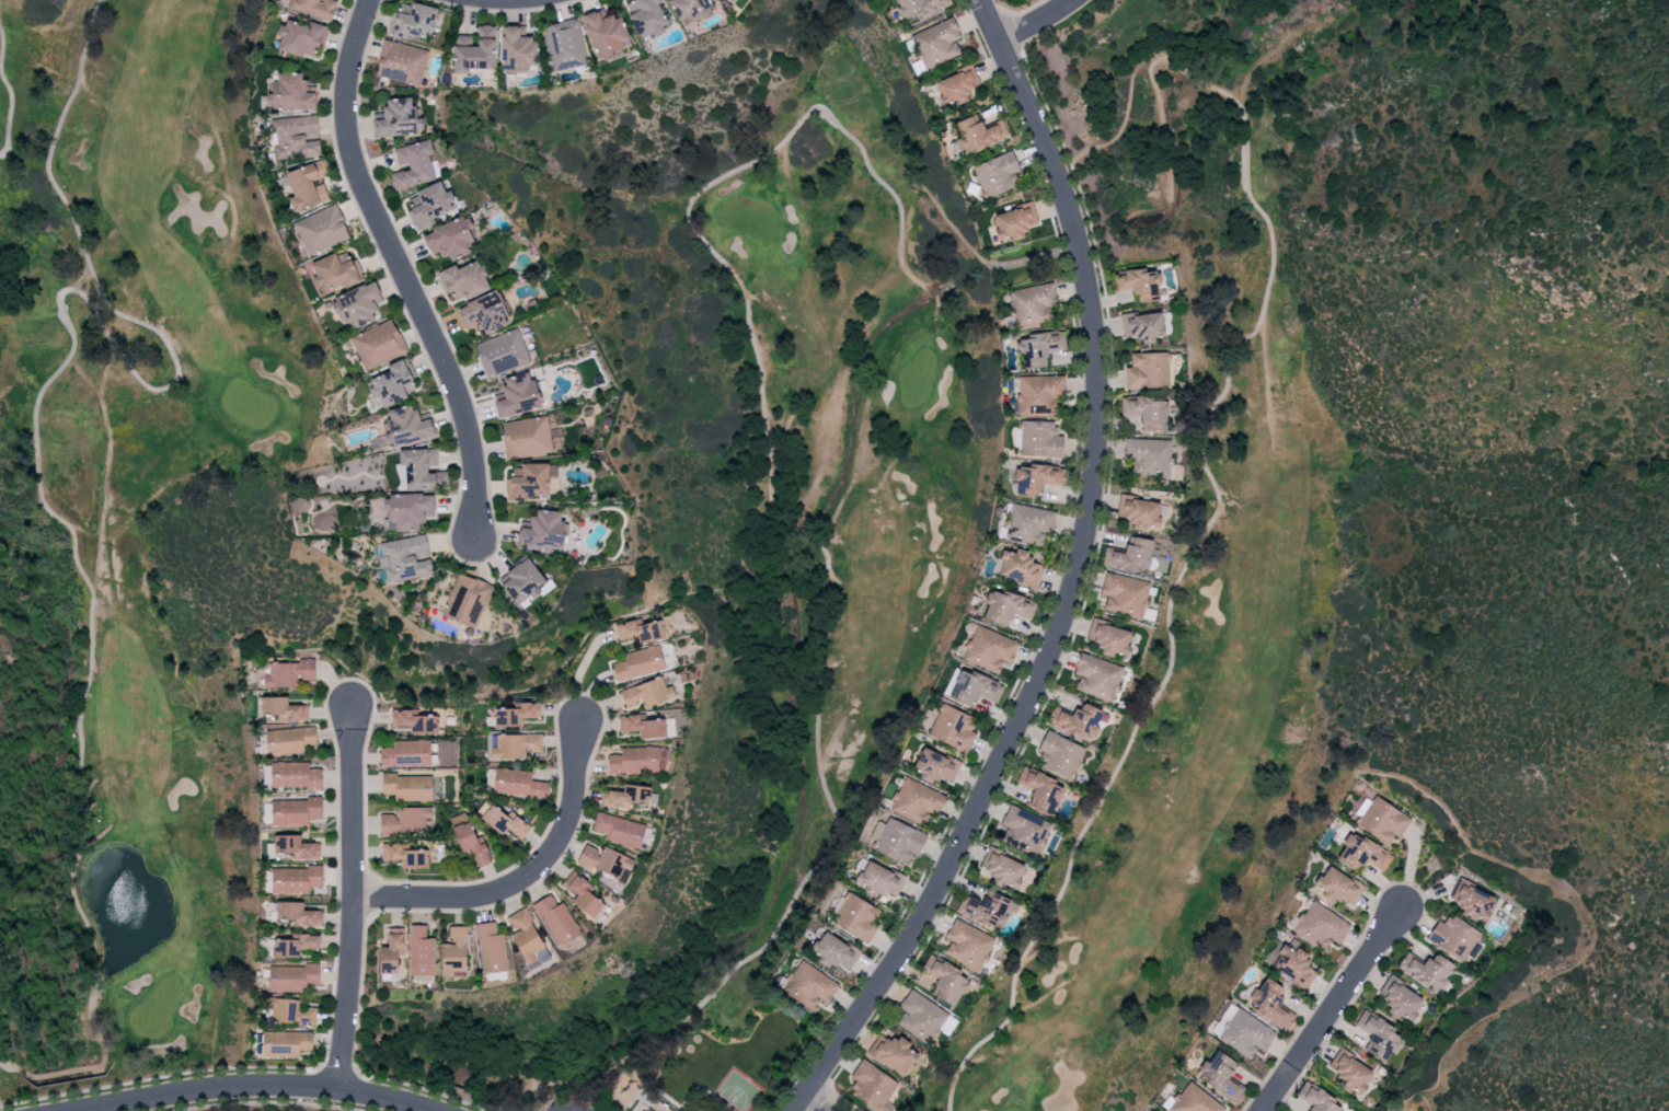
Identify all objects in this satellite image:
building: (917, 7)
building: (314, 8)
building: (689, 9)
building: (645, 16)
building: (412, 21)
road: (1036, 23)
building: (605, 34)
building: (299, 38)
building: (936, 43)
building: (563, 44)
building: (474, 51)
building: (517, 51)
building: (401, 62)
building: (956, 86)
building: (289, 93)
building: (396, 118)
building: (975, 135)
building: (297, 137)
building: (412, 164)
building: (995, 174)
building: (308, 184)
building: (430, 205)
building: (1013, 221)
building: (320, 230)
building: (450, 239)
road: (402, 269)
building: (334, 271)
building: (463, 280)
building: (1139, 283)
building: (1031, 304)
building: (355, 305)
building: (483, 313)
building: (1141, 326)
building: (378, 345)
building: (1037, 348)
building: (502, 354)
building: (1148, 371)
building: (390, 385)
building: (1039, 394)
building: (516, 395)
building: (1146, 412)
building: (407, 426)
building: (529, 437)
building: (1039, 439)
building: (1153, 458)
building: (422, 470)
building: (401, 477)
building: (1036, 479)
building: (528, 483)
building: (407, 510)
building: (1138, 512)
building: (1028, 524)
building: (542, 530)
park: (1307, 530)
building: (1130, 555)
park: (182, 557)
building: (404, 558)
building: (1018, 567)
road: (1074, 579)
building: (522, 582)
building: (1124, 594)
building: (467, 600)
building: (1005, 607)
building: (640, 630)
building: (1108, 638)
building: (989, 649)
building: (637, 662)
road: (580, 667)
building: (288, 673)
building: (1097, 676)
building: (970, 687)
building: (646, 693)
building: (283, 709)
building: (516, 715)
building: (1077, 720)
building: (414, 721)
building: (642, 727)
building: (952, 728)
building: (288, 740)
building: (515, 745)
building: (405, 753)
building: (1060, 754)
building: (934, 766)
building: (293, 775)
building: (518, 784)
building: (407, 787)
building: (1039, 790)
building: (625, 797)
building: (916, 801)
building: (293, 811)
building: (405, 820)
building: (1380, 820)
building: (503, 821)
park: (441, 828)
building: (619, 830)
building: (1023, 831)
building: (471, 844)
building: (296, 847)
building: (1361, 854)
building: (404, 856)
building: (606, 861)
building: (1000, 869)
road: (526, 876)
building: (295, 880)
building: (878, 880)
building: (1336, 887)
building: (583, 894)
road: (353, 898)
building: (1472, 901)
building: (985, 910)
building: (298, 914)
building: (856, 918)
building: (557, 921)
building: (1320, 925)
building: (525, 937)
building: (1453, 937)
building: (967, 945)
building: (295, 946)
building: (491, 949)
building: (391, 951)
building: (421, 951)
building: (833, 951)
building: (453, 952)
building: (1292, 965)
building: (1427, 971)
building: (291, 977)
building: (945, 979)
building: (808, 987)
building: (1398, 999)
building: (1268, 1003)
road: (1332, 1009)
building: (292, 1011)
building: (919, 1017)
building: (1242, 1031)
building: (1378, 1037)
building: (285, 1043)
building: (893, 1052)
building: (1349, 1073)
building: (1219, 1075)
road: (258, 1086)
building: (871, 1086)
building: (1316, 1099)
building: (1194, 1100)
road: (810, 1106)
road: (557, 1109)
building: (648, 1110)

